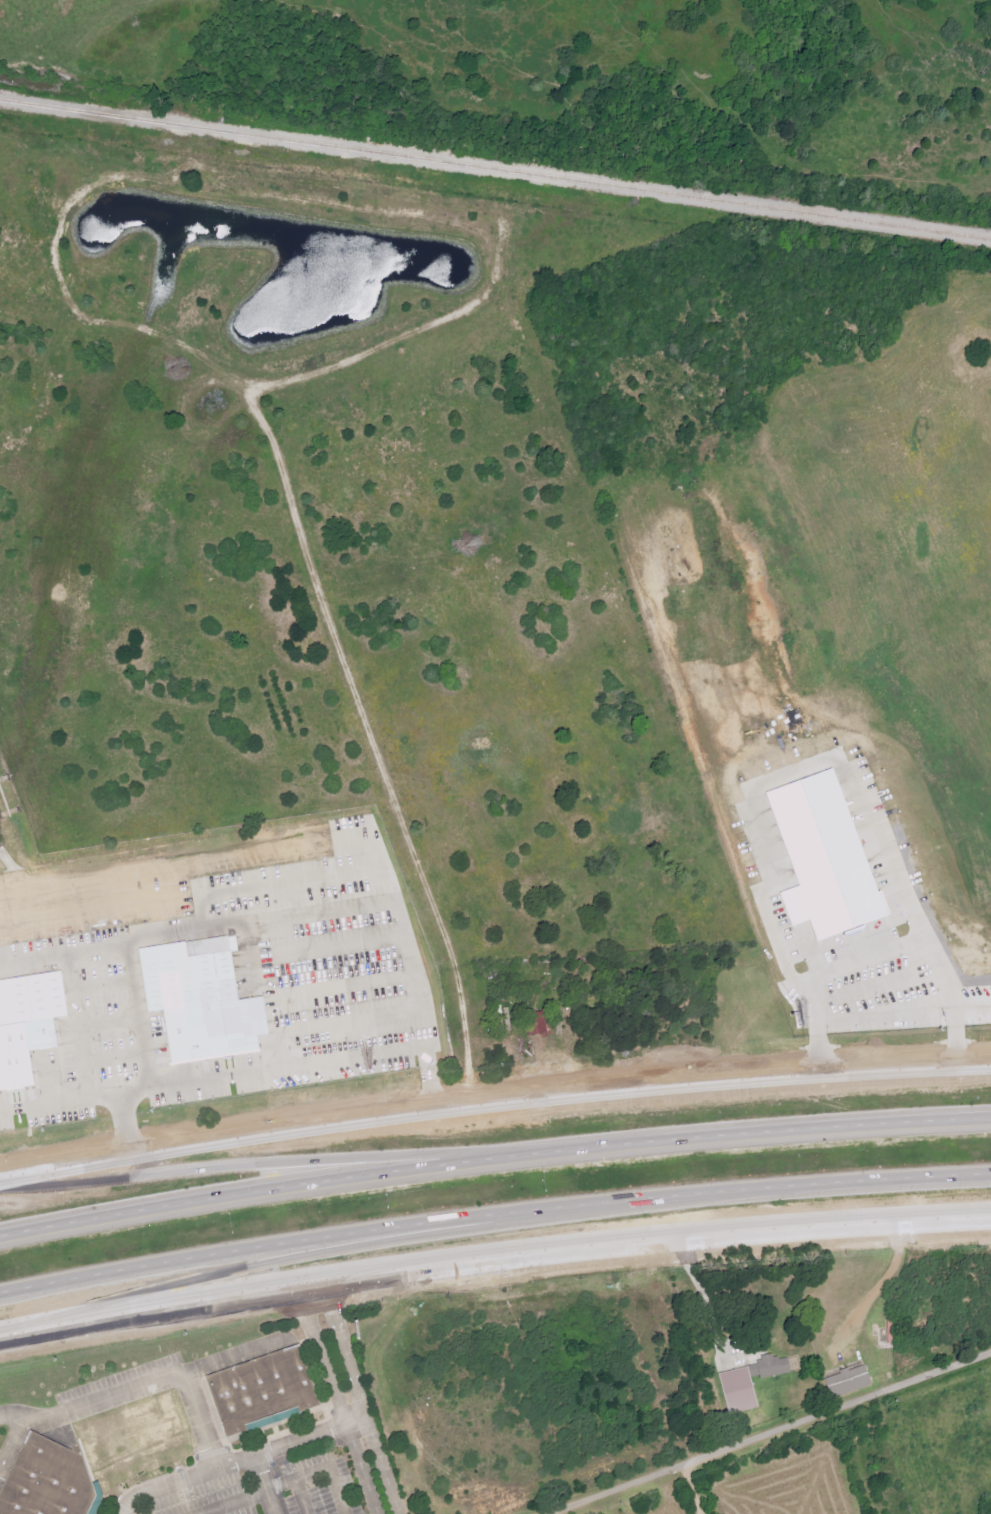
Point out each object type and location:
railway: (495, 168)
road: (843, 777)
building: (821, 861)
road: (861, 960)
road: (975, 1002)
building: (216, 1006)
road: (128, 1019)
building: (539, 1023)
building: (29, 1024)
road: (311, 1061)
road: (493, 1095)
road: (43, 1103)
road: (804, 1129)
road: (308, 1180)
road: (855, 1180)
road: (358, 1230)
road: (493, 1261)
road: (876, 1293)
road: (699, 1298)
road: (234, 1354)
parking lot: (123, 1379)
building: (751, 1381)
building: (850, 1381)
road: (128, 1387)
building: (258, 1388)
road: (361, 1400)
road: (337, 1401)
road: (11, 1414)
road: (771, 1433)
building: (126, 1435)
road: (309, 1436)
building: (43, 1479)
road: (184, 1479)
road: (278, 1483)
road: (263, 1484)
parking lot: (273, 1487)
road: (690, 1490)
road: (303, 1495)

